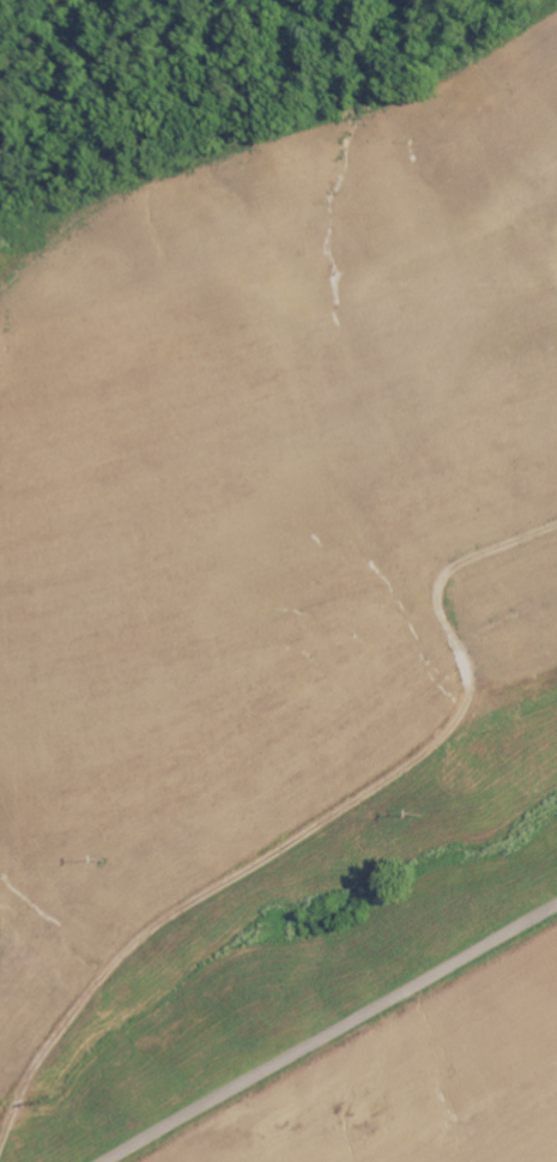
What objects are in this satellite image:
road: (243, 882)
road: (329, 1034)

